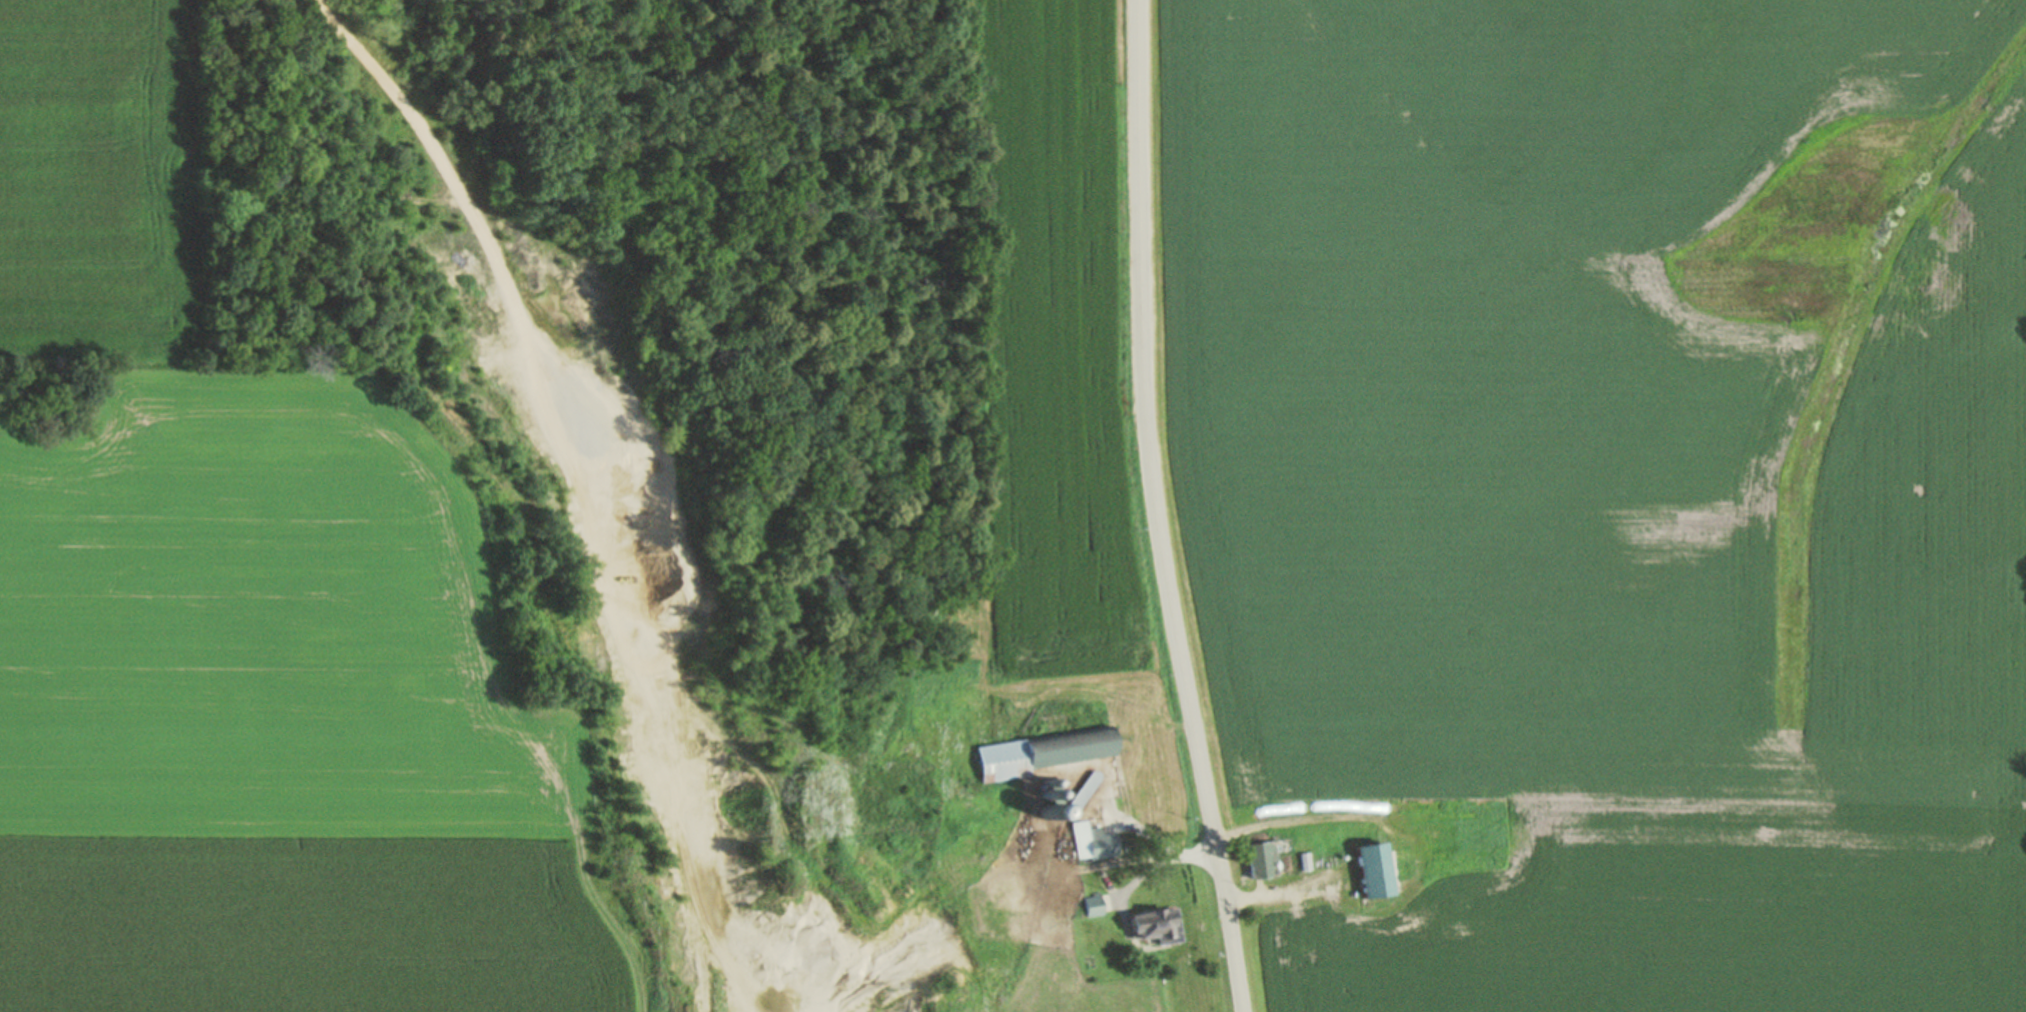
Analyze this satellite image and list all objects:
road: (468, 181)
quarry: (550, 419)
road: (1159, 509)
road: (969, 614)
building: (1225, 708)
building: (1042, 753)
building: (1081, 794)
building: (1093, 841)
building: (1263, 858)
road: (1114, 862)
road: (1150, 868)
building: (1372, 868)
road: (1283, 895)
building: (1093, 905)
building: (1156, 925)
road: (648, 984)

